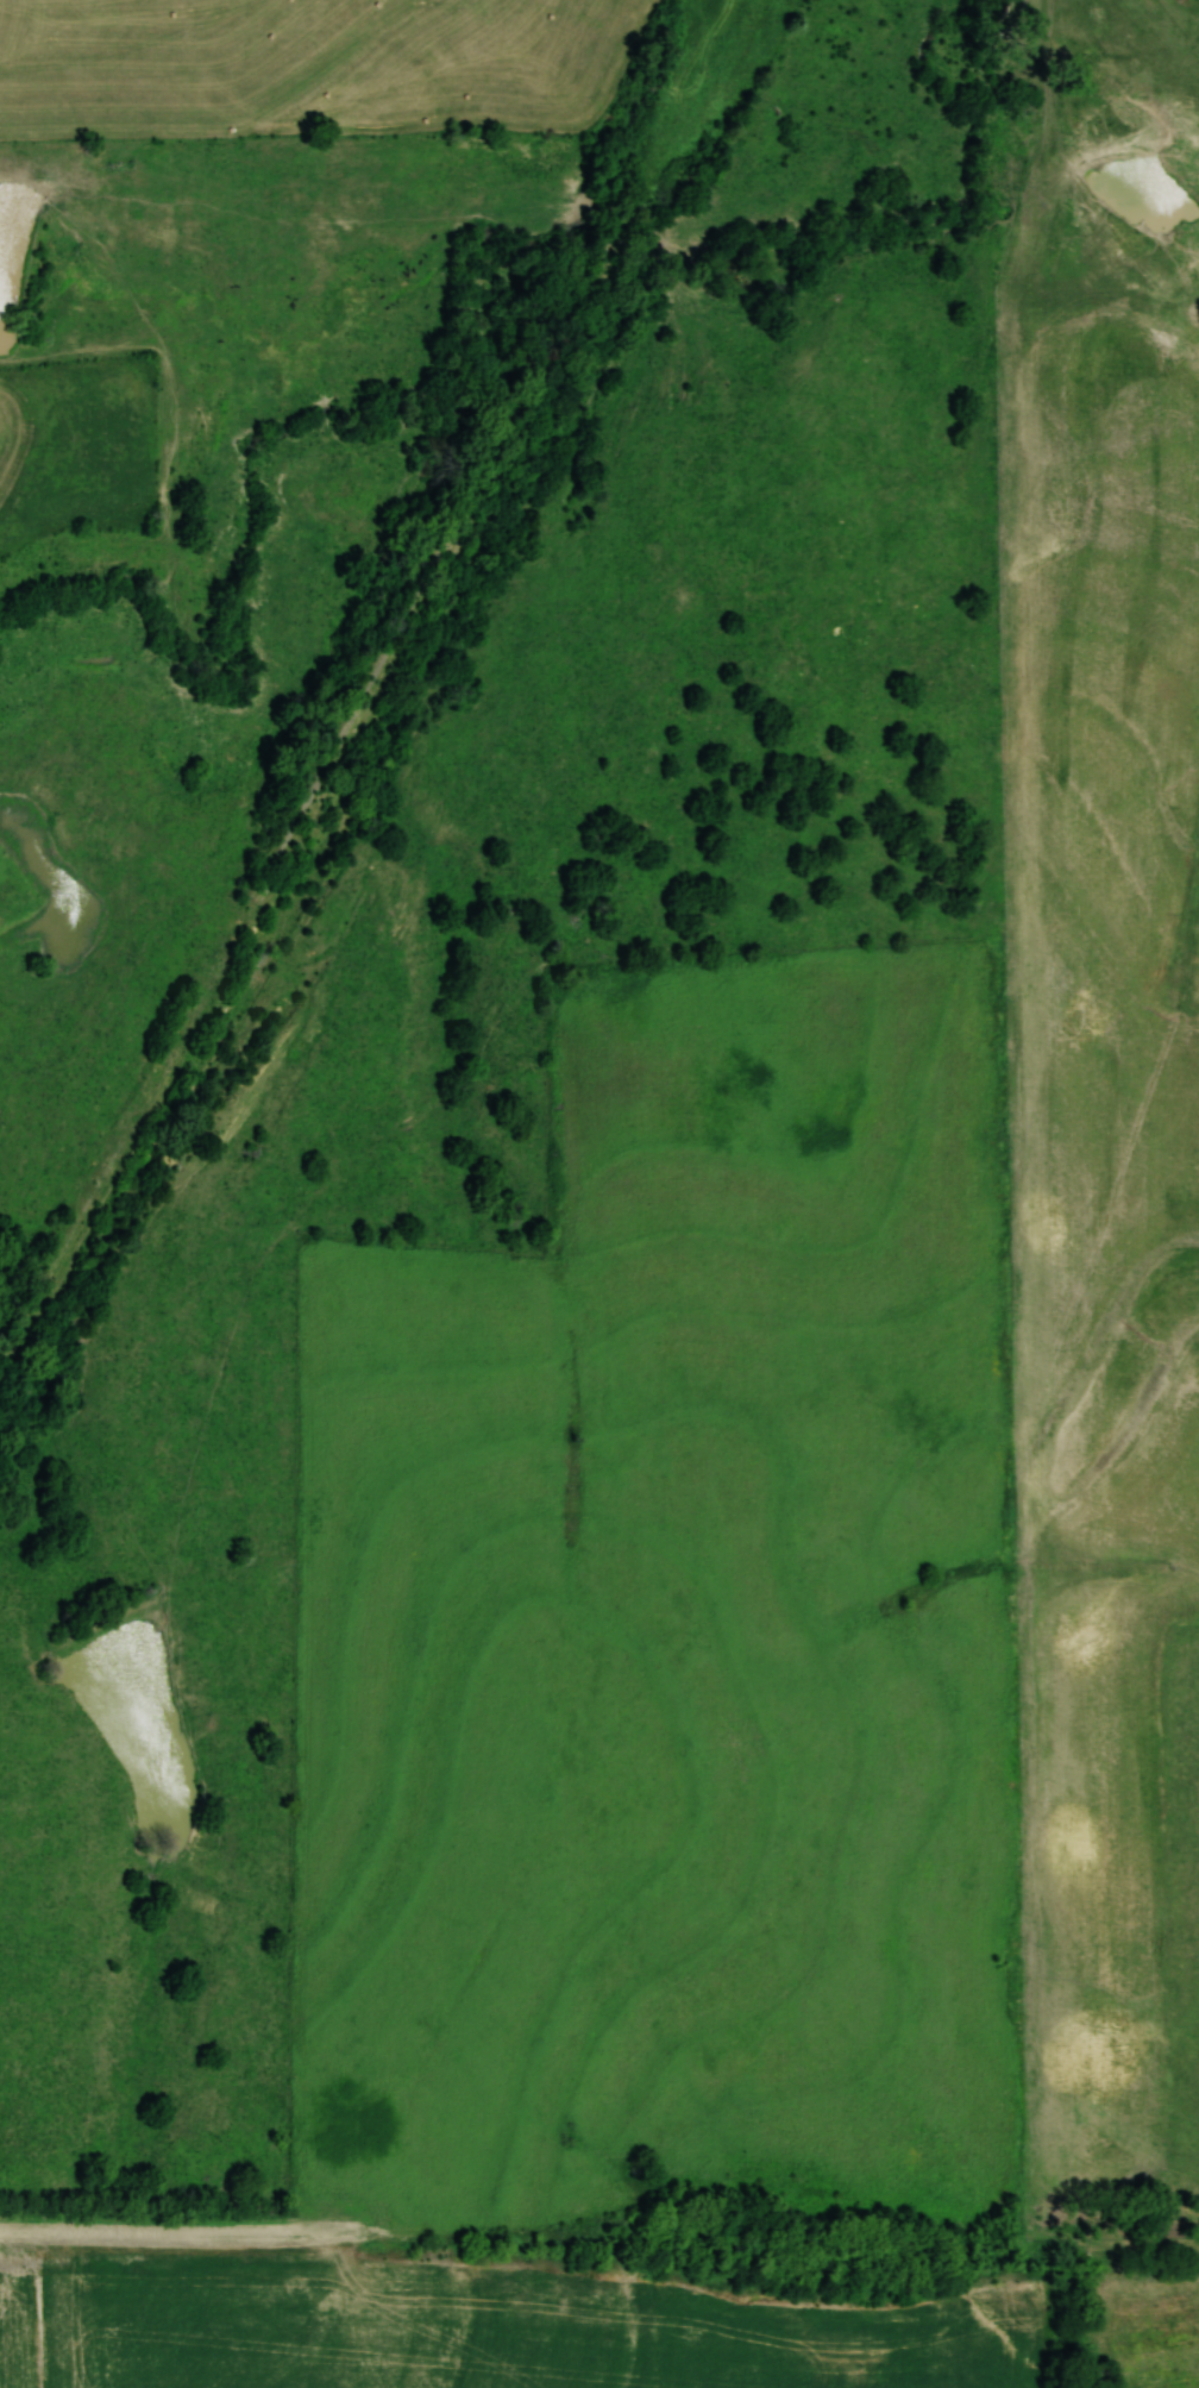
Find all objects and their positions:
road: (175, 2235)

